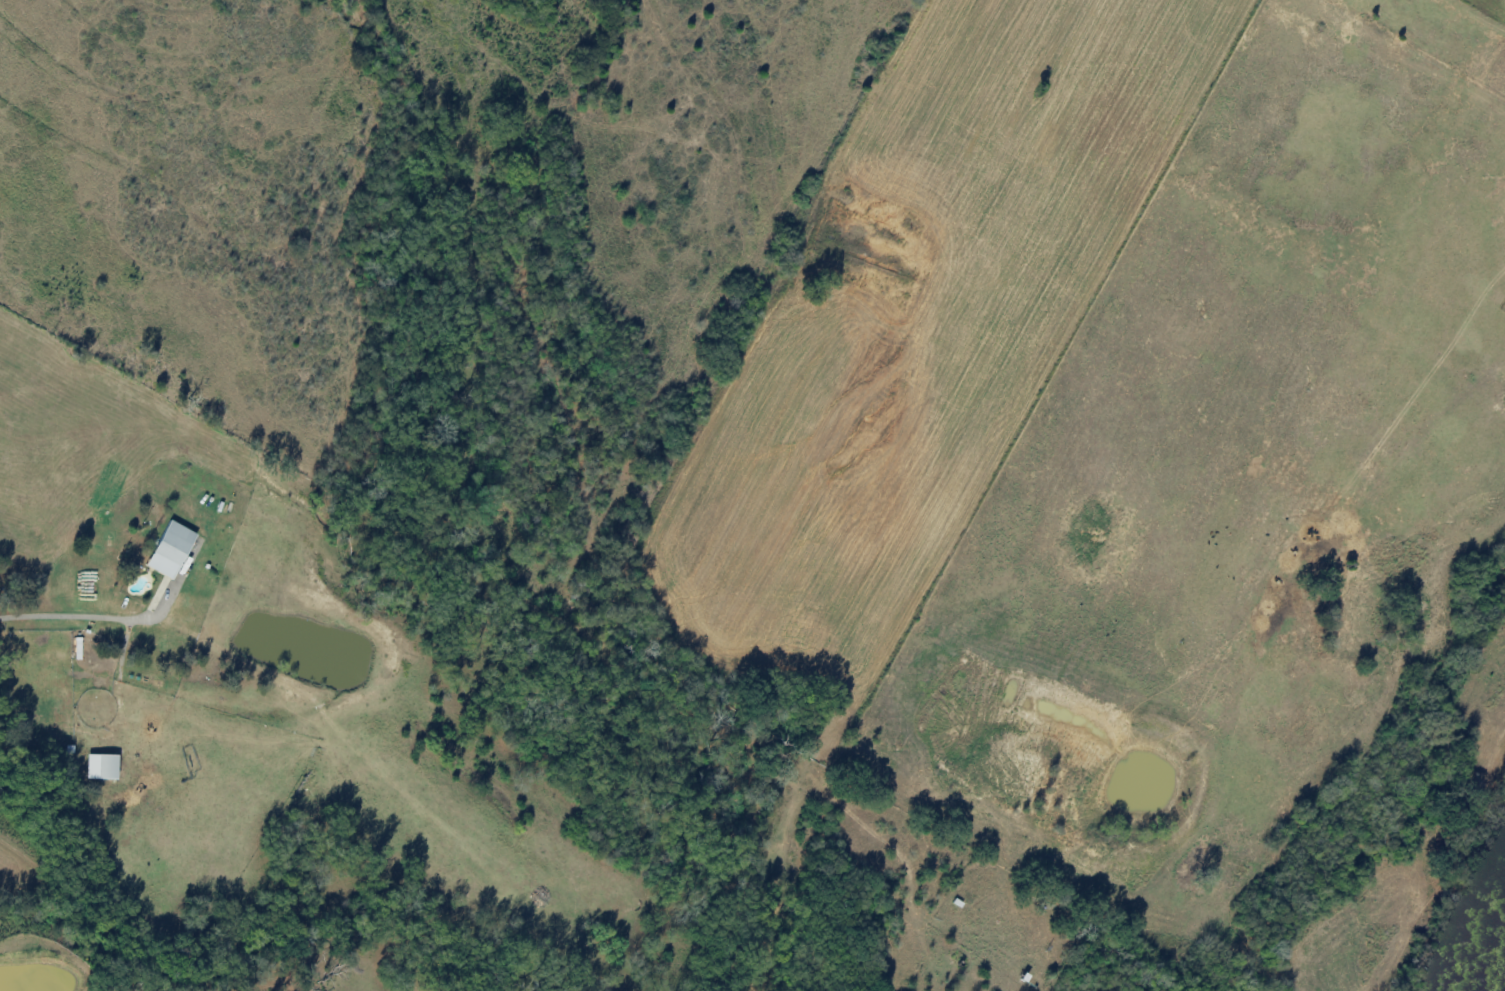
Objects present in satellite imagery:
building: (172, 549)
road: (82, 628)
building: (103, 767)

